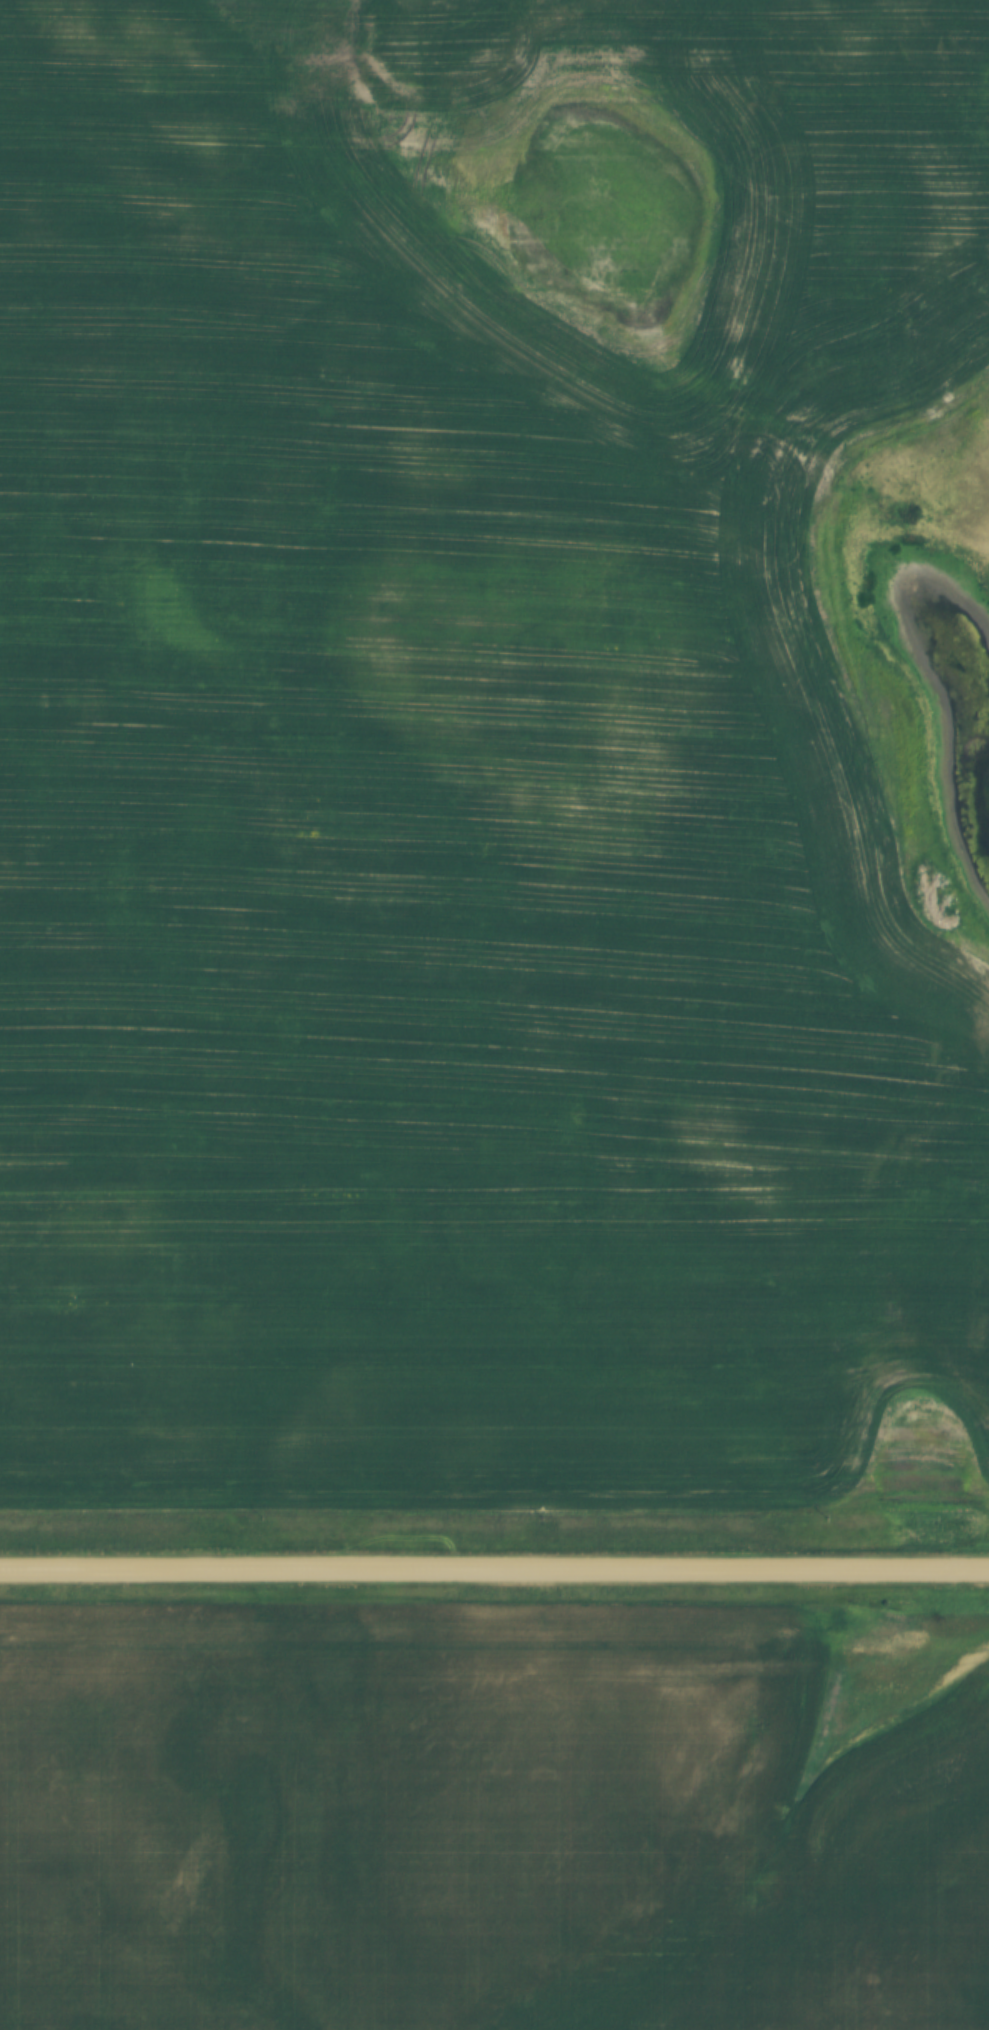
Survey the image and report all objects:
road: (494, 1573)

